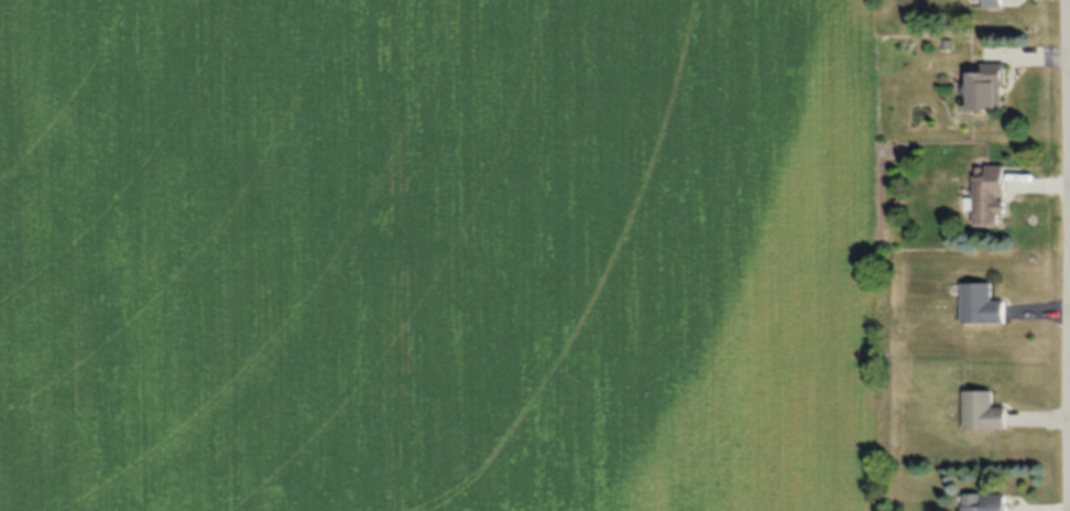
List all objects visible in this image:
building: (990, 3)
road: (1069, 30)
building: (984, 88)
building: (986, 194)
building: (980, 304)
building: (982, 412)
building: (983, 502)

